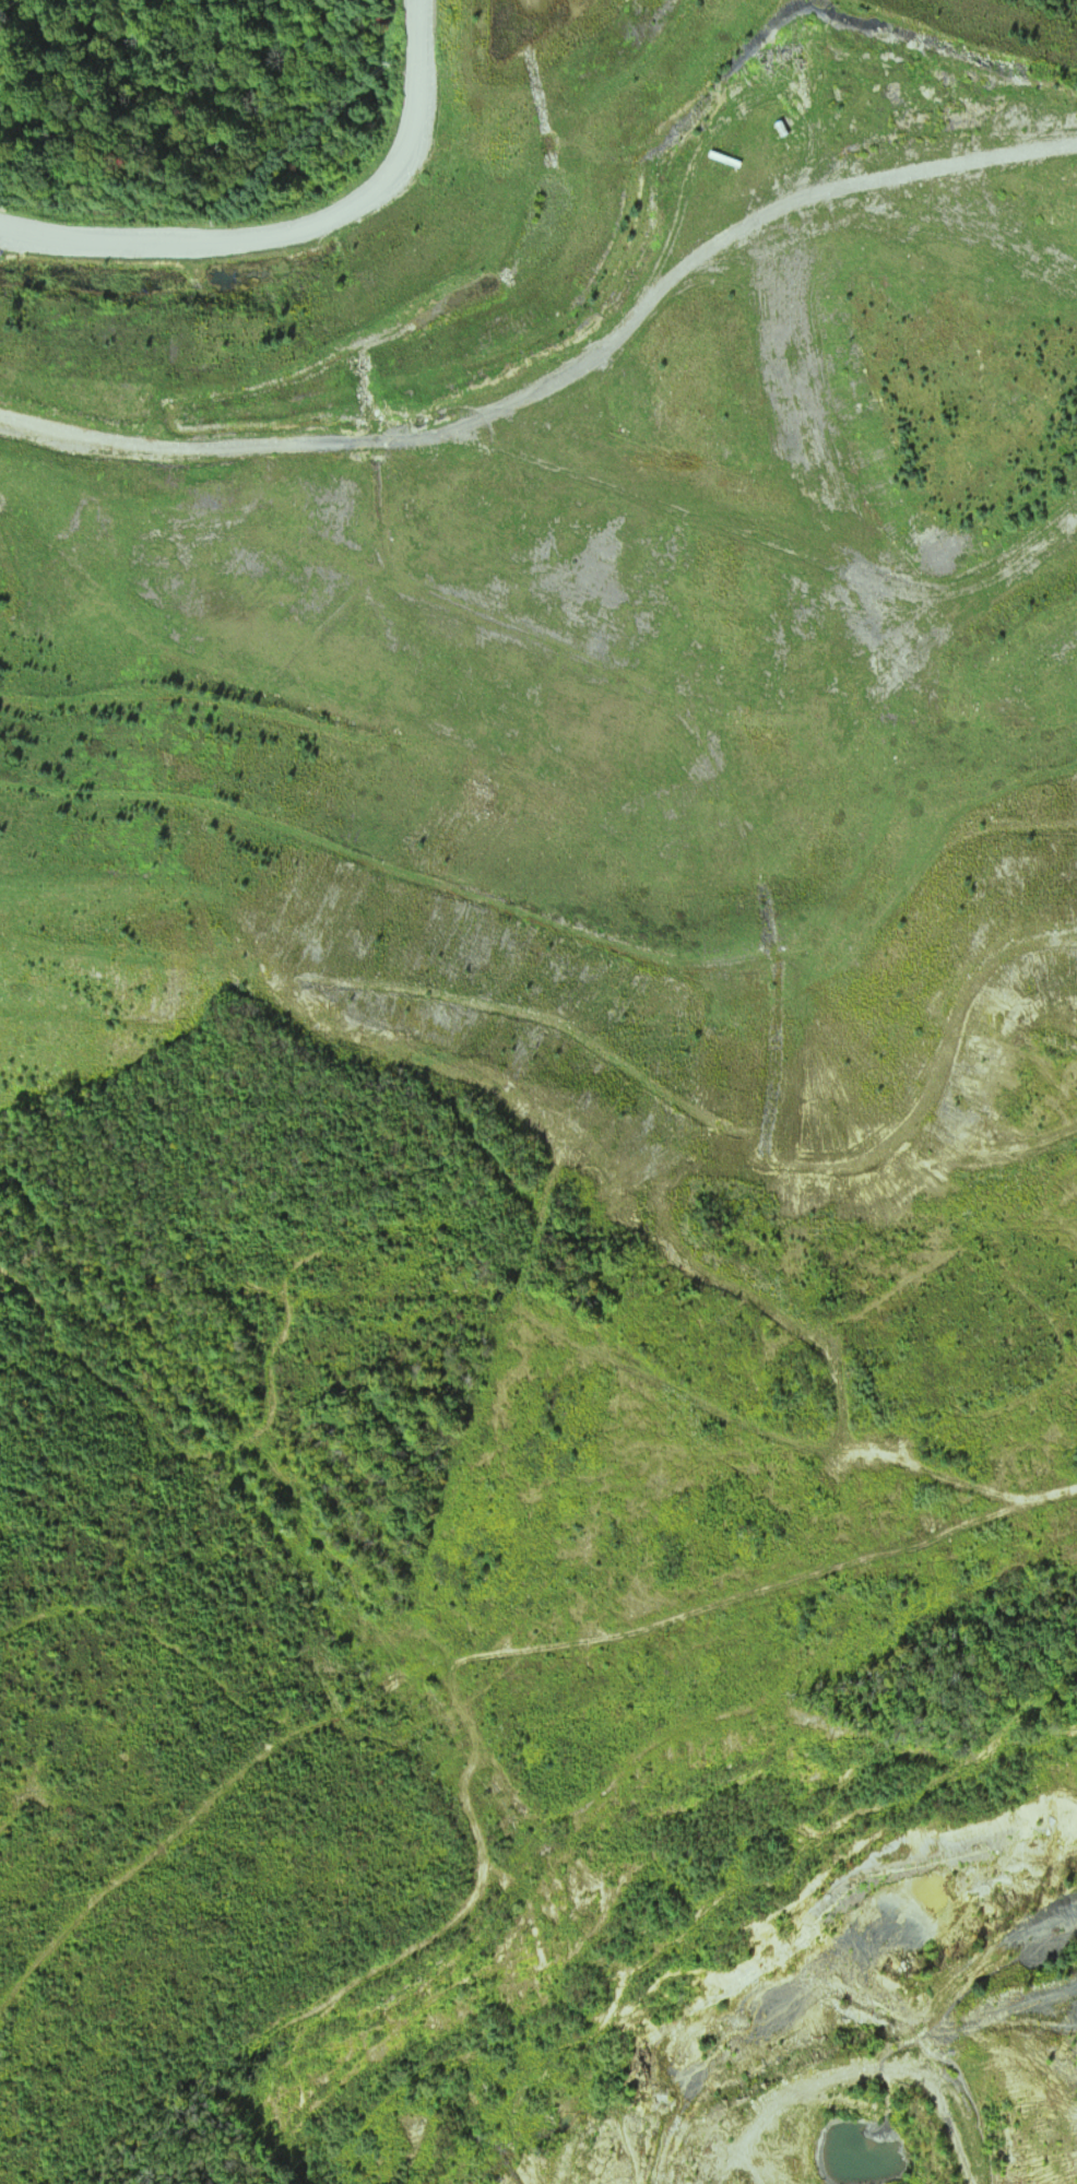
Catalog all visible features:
road: (427, 354)
road: (55, 375)
road: (896, 2086)

